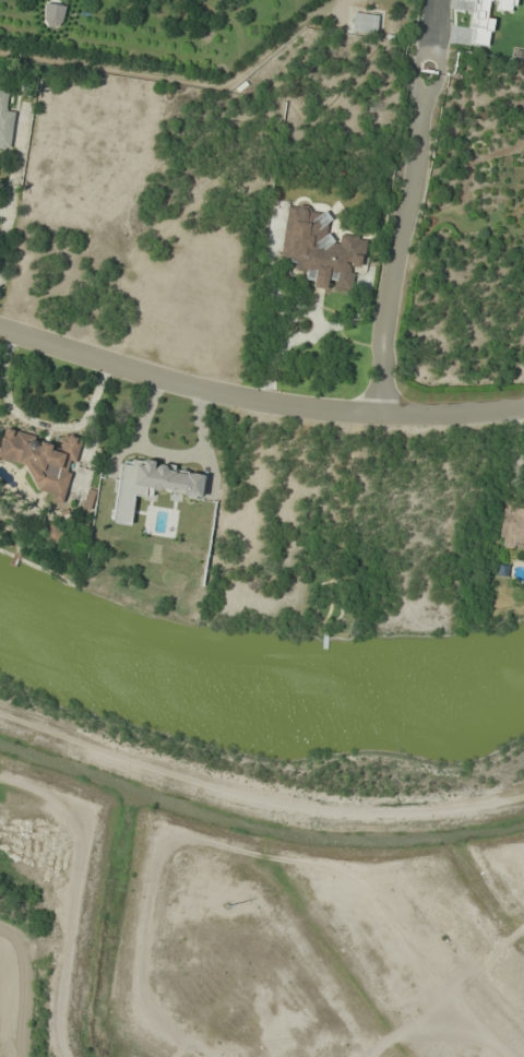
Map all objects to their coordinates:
building: (52, 14)
building: (4, 121)
road: (406, 206)
building: (319, 249)
road: (257, 402)
building: (41, 460)
building: (512, 527)
building: (52, 533)
river: (257, 688)
river: (64, 765)

